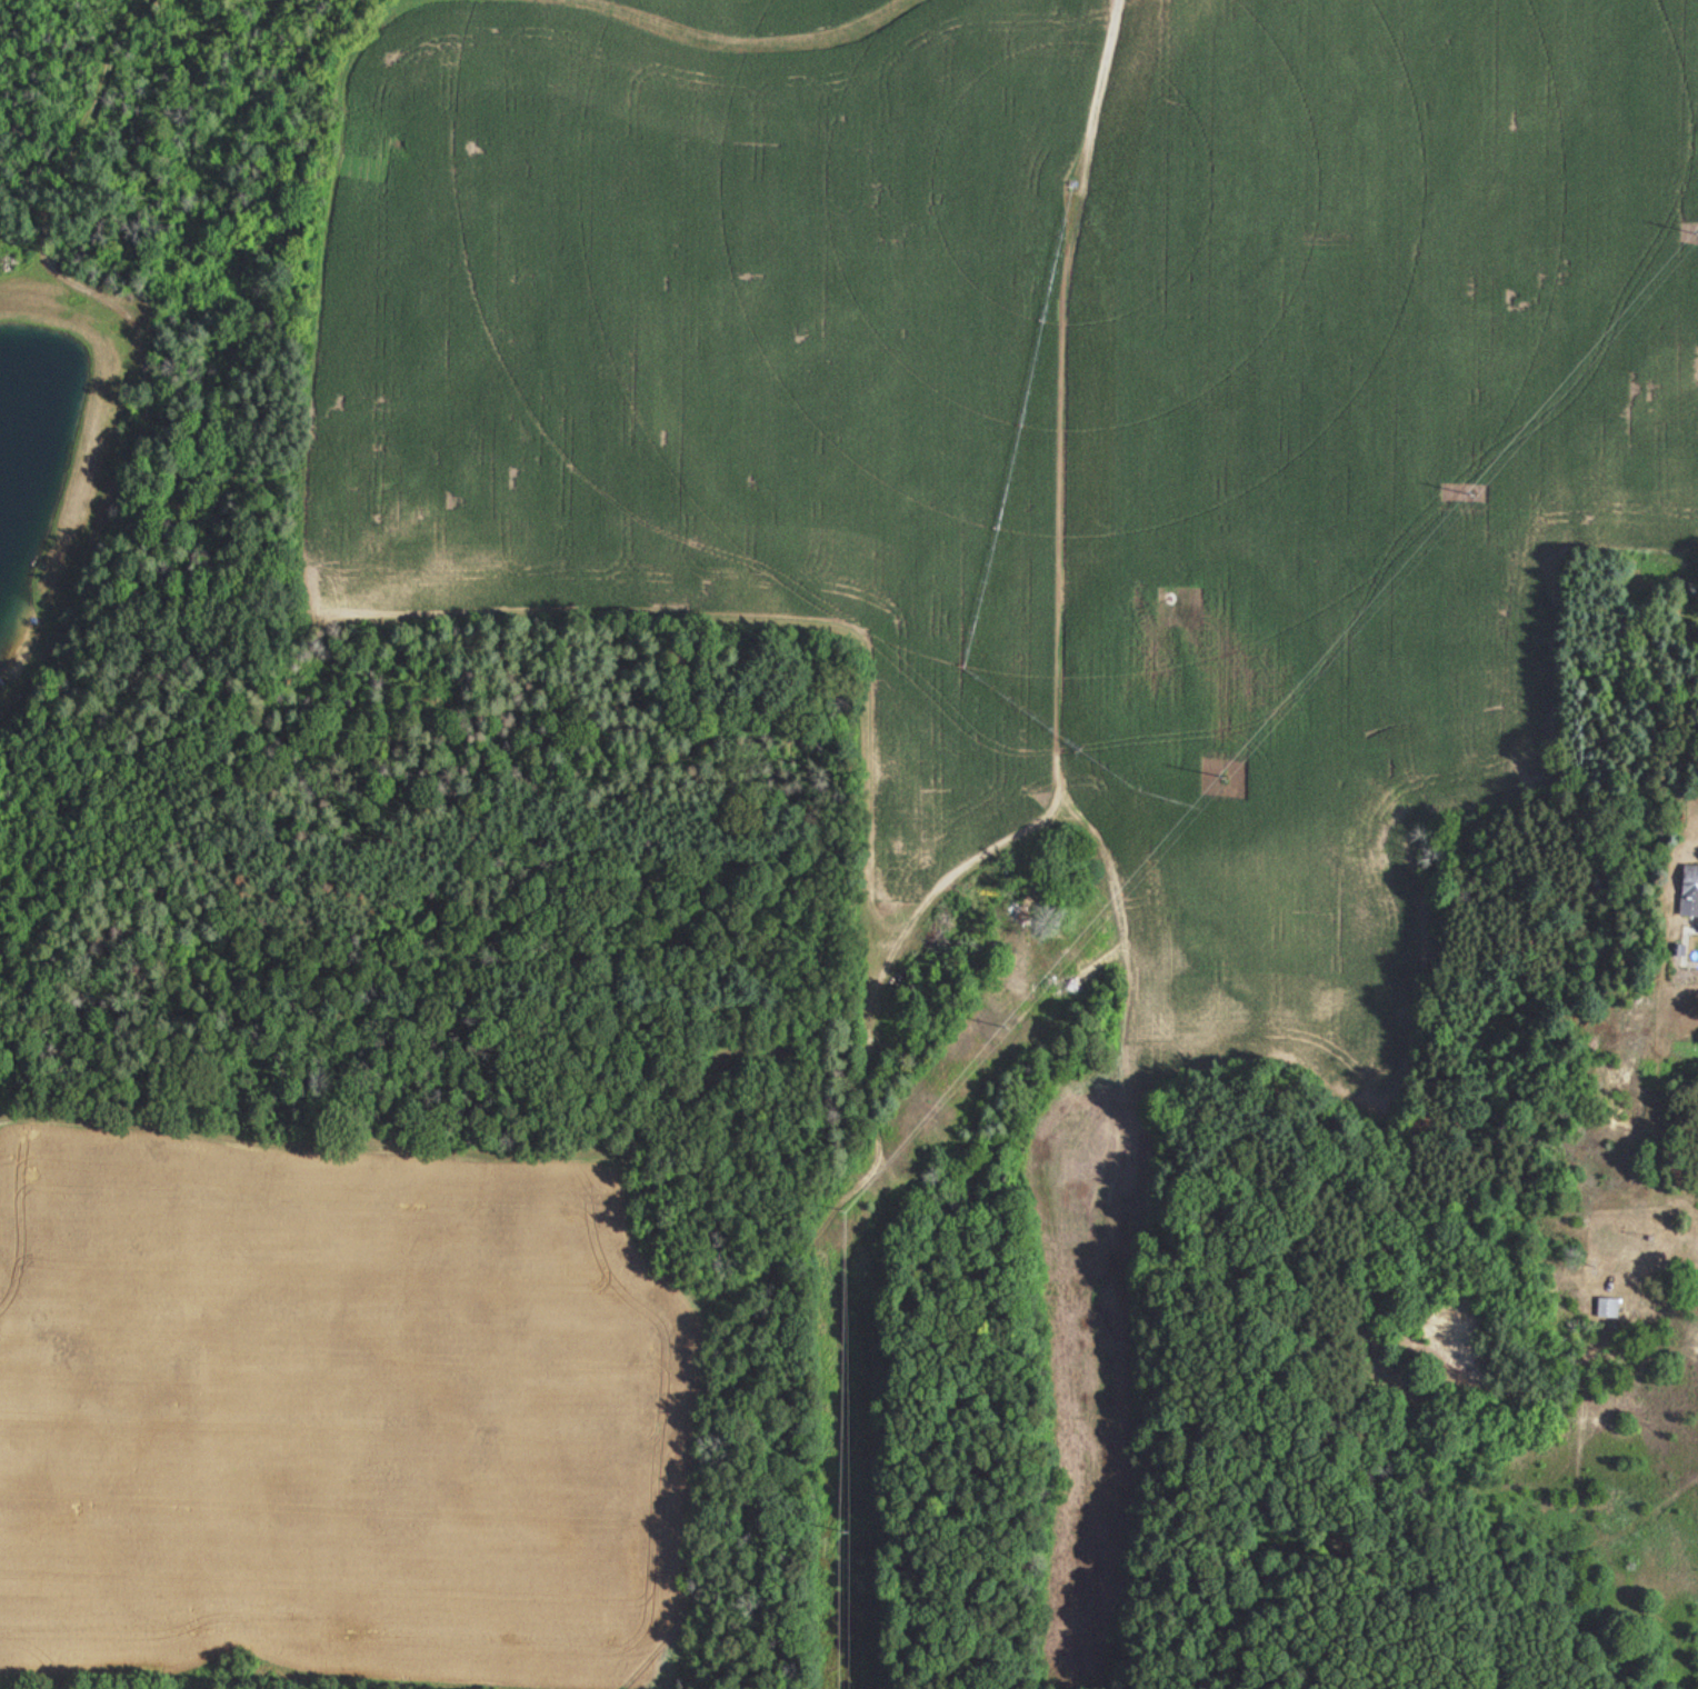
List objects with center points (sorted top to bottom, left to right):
building: (1688, 892)
building: (1606, 1309)

